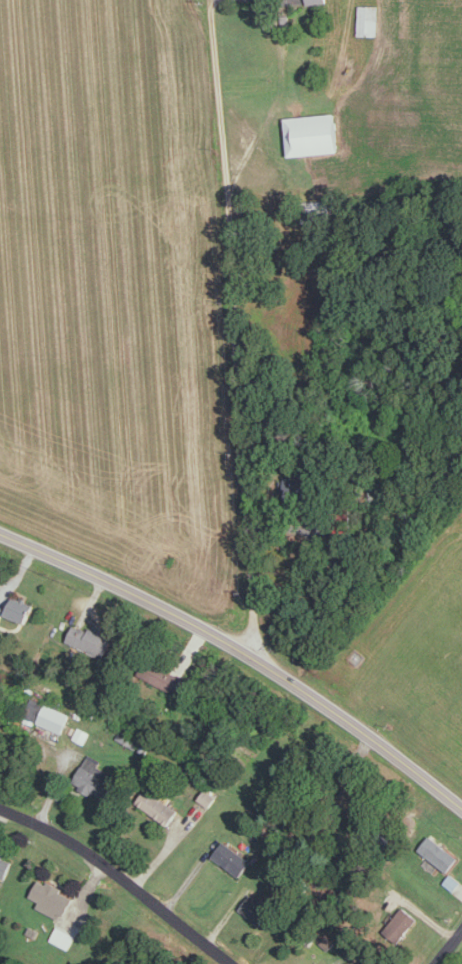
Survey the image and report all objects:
building: (316, 1)
building: (269, 13)
building: (368, 18)
building: (315, 133)
road: (233, 329)
building: (300, 488)
building: (22, 608)
building: (0, 615)
building: (91, 639)
road: (242, 650)
building: (171, 679)
building: (31, 710)
building: (55, 718)
building: (81, 734)
building: (95, 777)
building: (207, 797)
building: (159, 806)
building: (440, 854)
building: (232, 858)
building: (5, 864)
road: (120, 878)
building: (452, 881)
building: (52, 897)
building: (255, 908)
building: (63, 936)
road: (448, 946)
building: (367, 961)
building: (353, 963)

